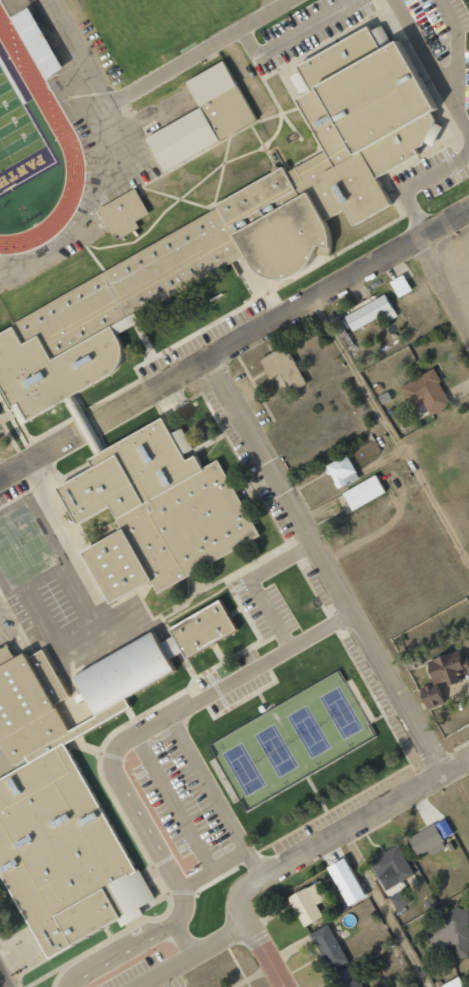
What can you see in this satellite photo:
building: (40, 41)
road: (199, 53)
road: (95, 87)
building: (208, 117)
park: (20, 138)
track: (72, 145)
building: (128, 211)
building: (239, 219)
road: (441, 285)
building: (400, 286)
building: (370, 313)
road: (235, 344)
building: (282, 367)
building: (425, 392)
road: (393, 429)
building: (342, 472)
building: (363, 492)
building: (163, 509)
road: (328, 566)
building: (441, 676)
park: (295, 739)
road: (119, 775)
building: (78, 787)
road: (350, 826)
building: (427, 841)
building: (391, 865)
building: (350, 886)
building: (308, 903)
road: (389, 908)
building: (451, 933)
road: (259, 939)
building: (329, 947)
road: (200, 957)
building: (348, 977)
road: (1, 983)
building: (453, 983)

